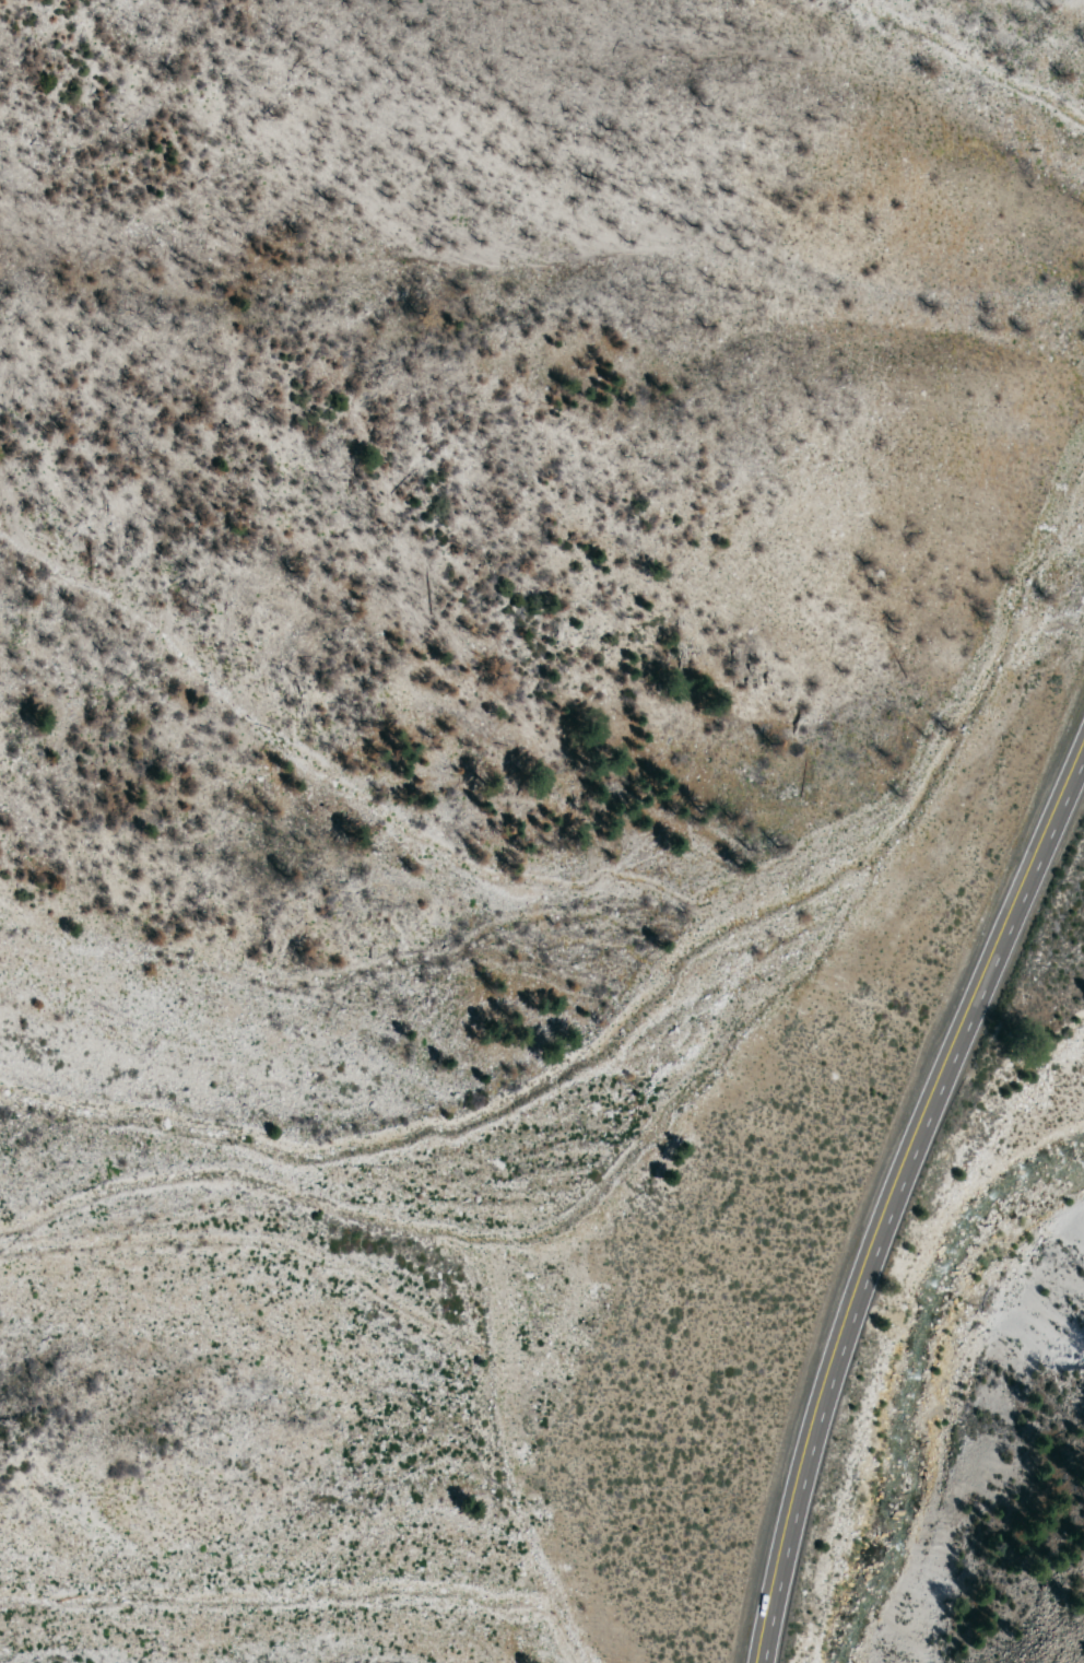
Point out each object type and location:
road: (884, 1183)
river: (914, 1373)

